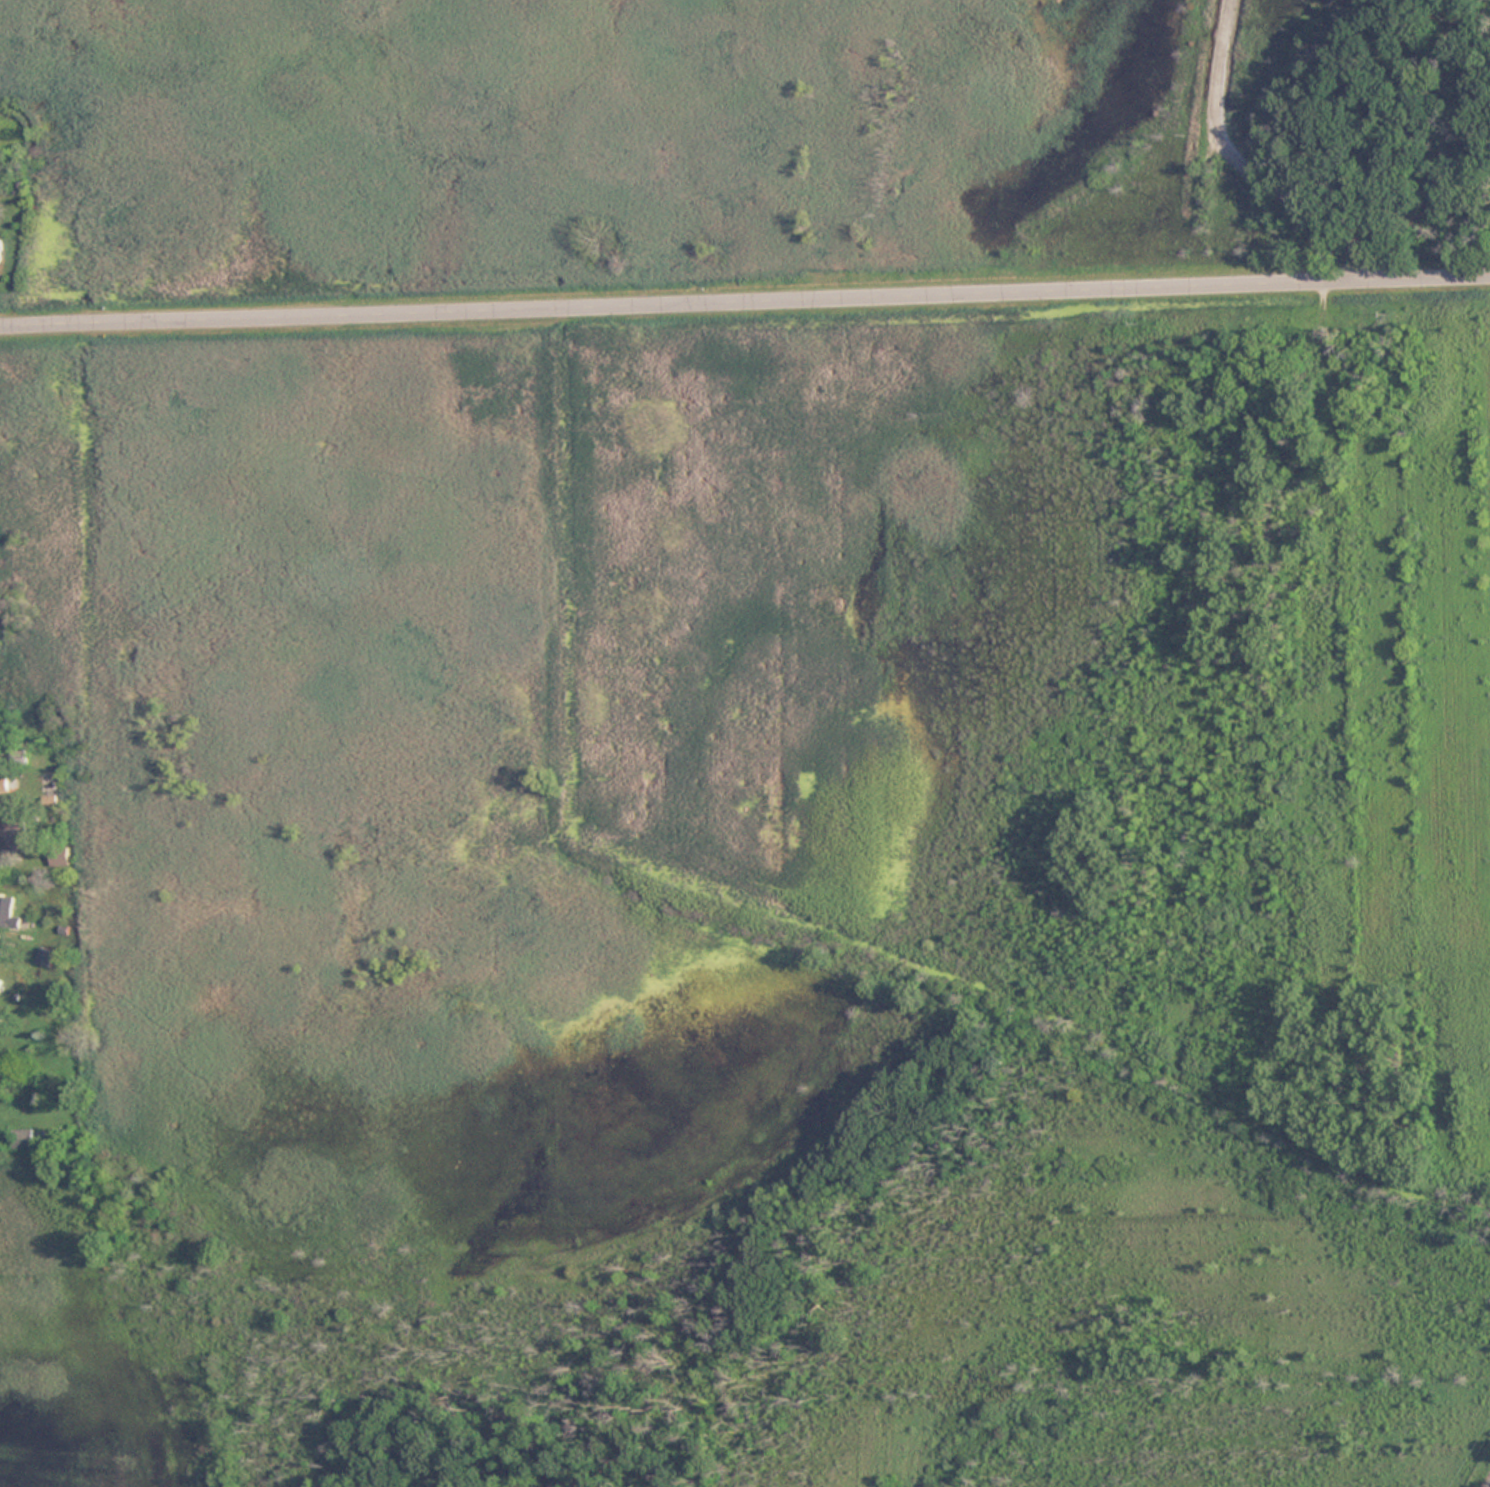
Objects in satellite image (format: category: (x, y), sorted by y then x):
road: (1241, 167)
road: (745, 300)
building: (12, 839)
building: (59, 856)
building: (5, 911)
building: (45, 956)
building: (21, 1138)

